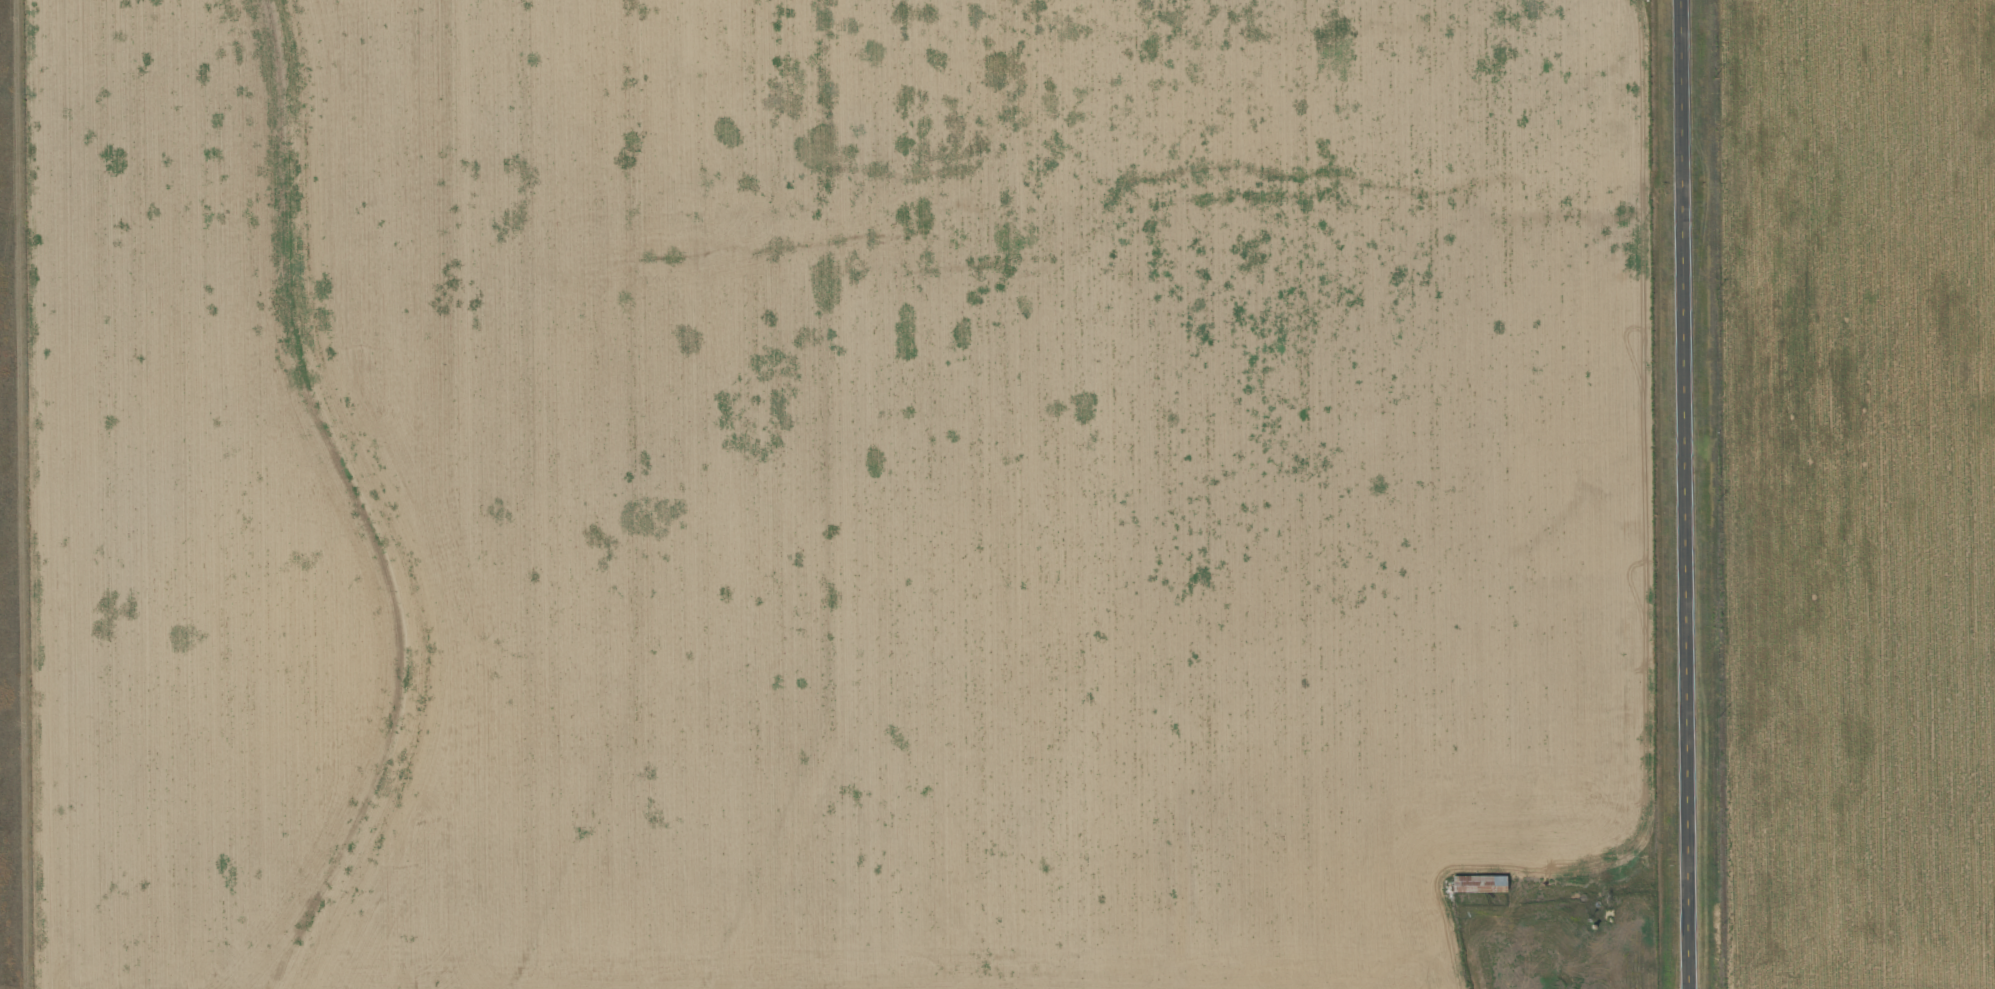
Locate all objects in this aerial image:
road: (1683, 96)
road: (1687, 590)

